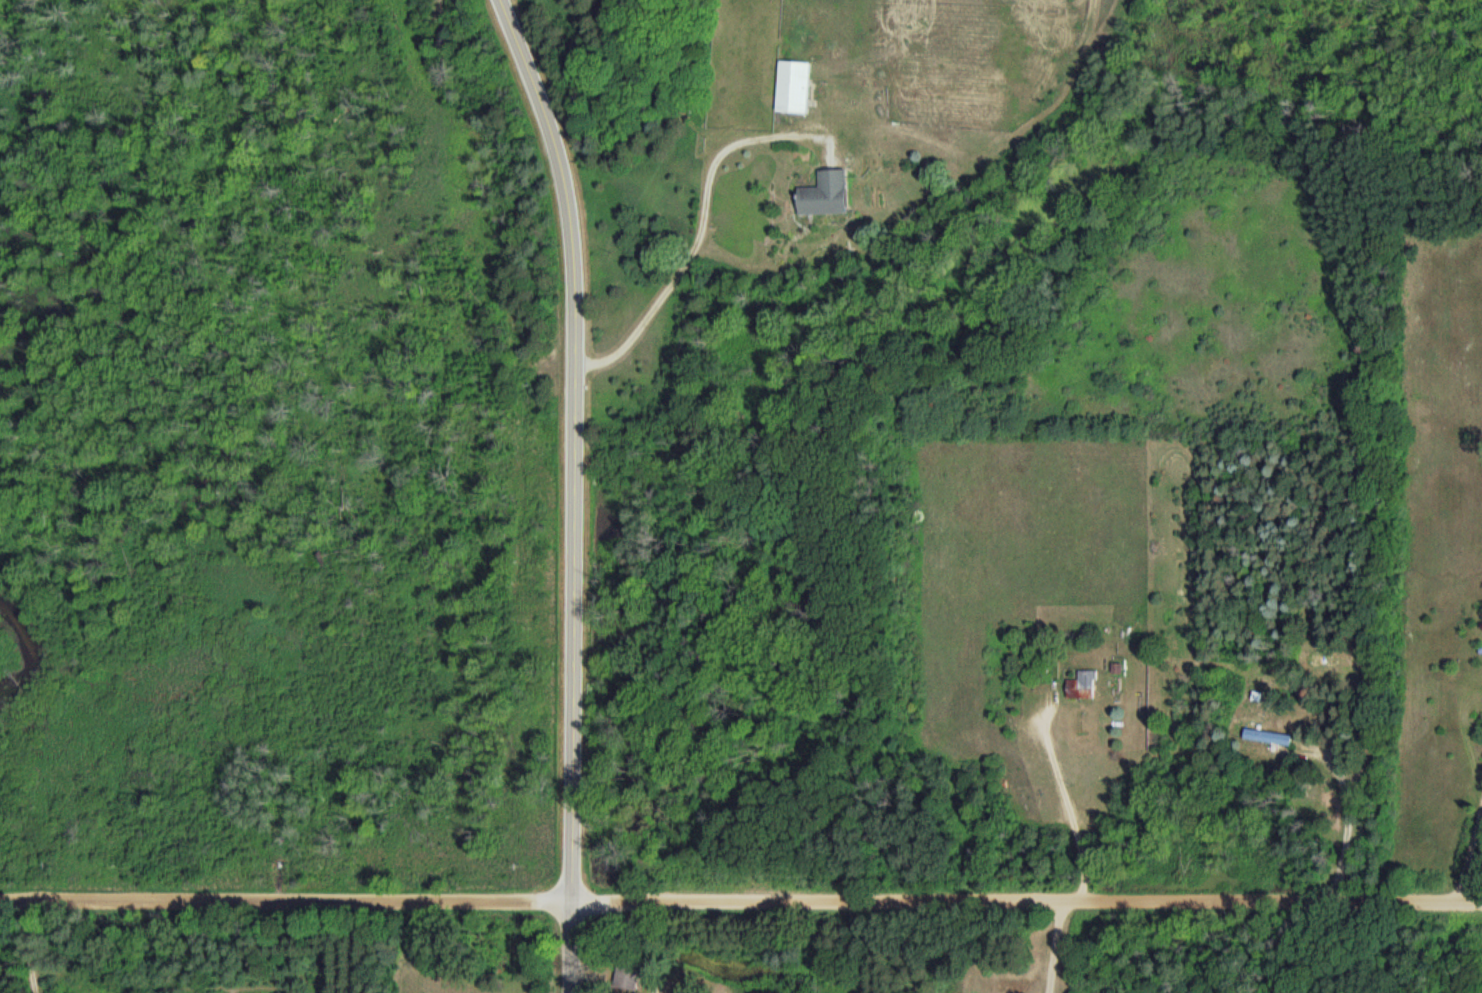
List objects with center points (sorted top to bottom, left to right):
building: (794, 87)
building: (826, 194)
road: (702, 221)
road: (573, 490)
river: (28, 645)
building: (1324, 660)
building: (1083, 686)
building: (1268, 738)
road: (1346, 826)
road: (1466, 854)
road: (741, 896)
building: (627, 978)

